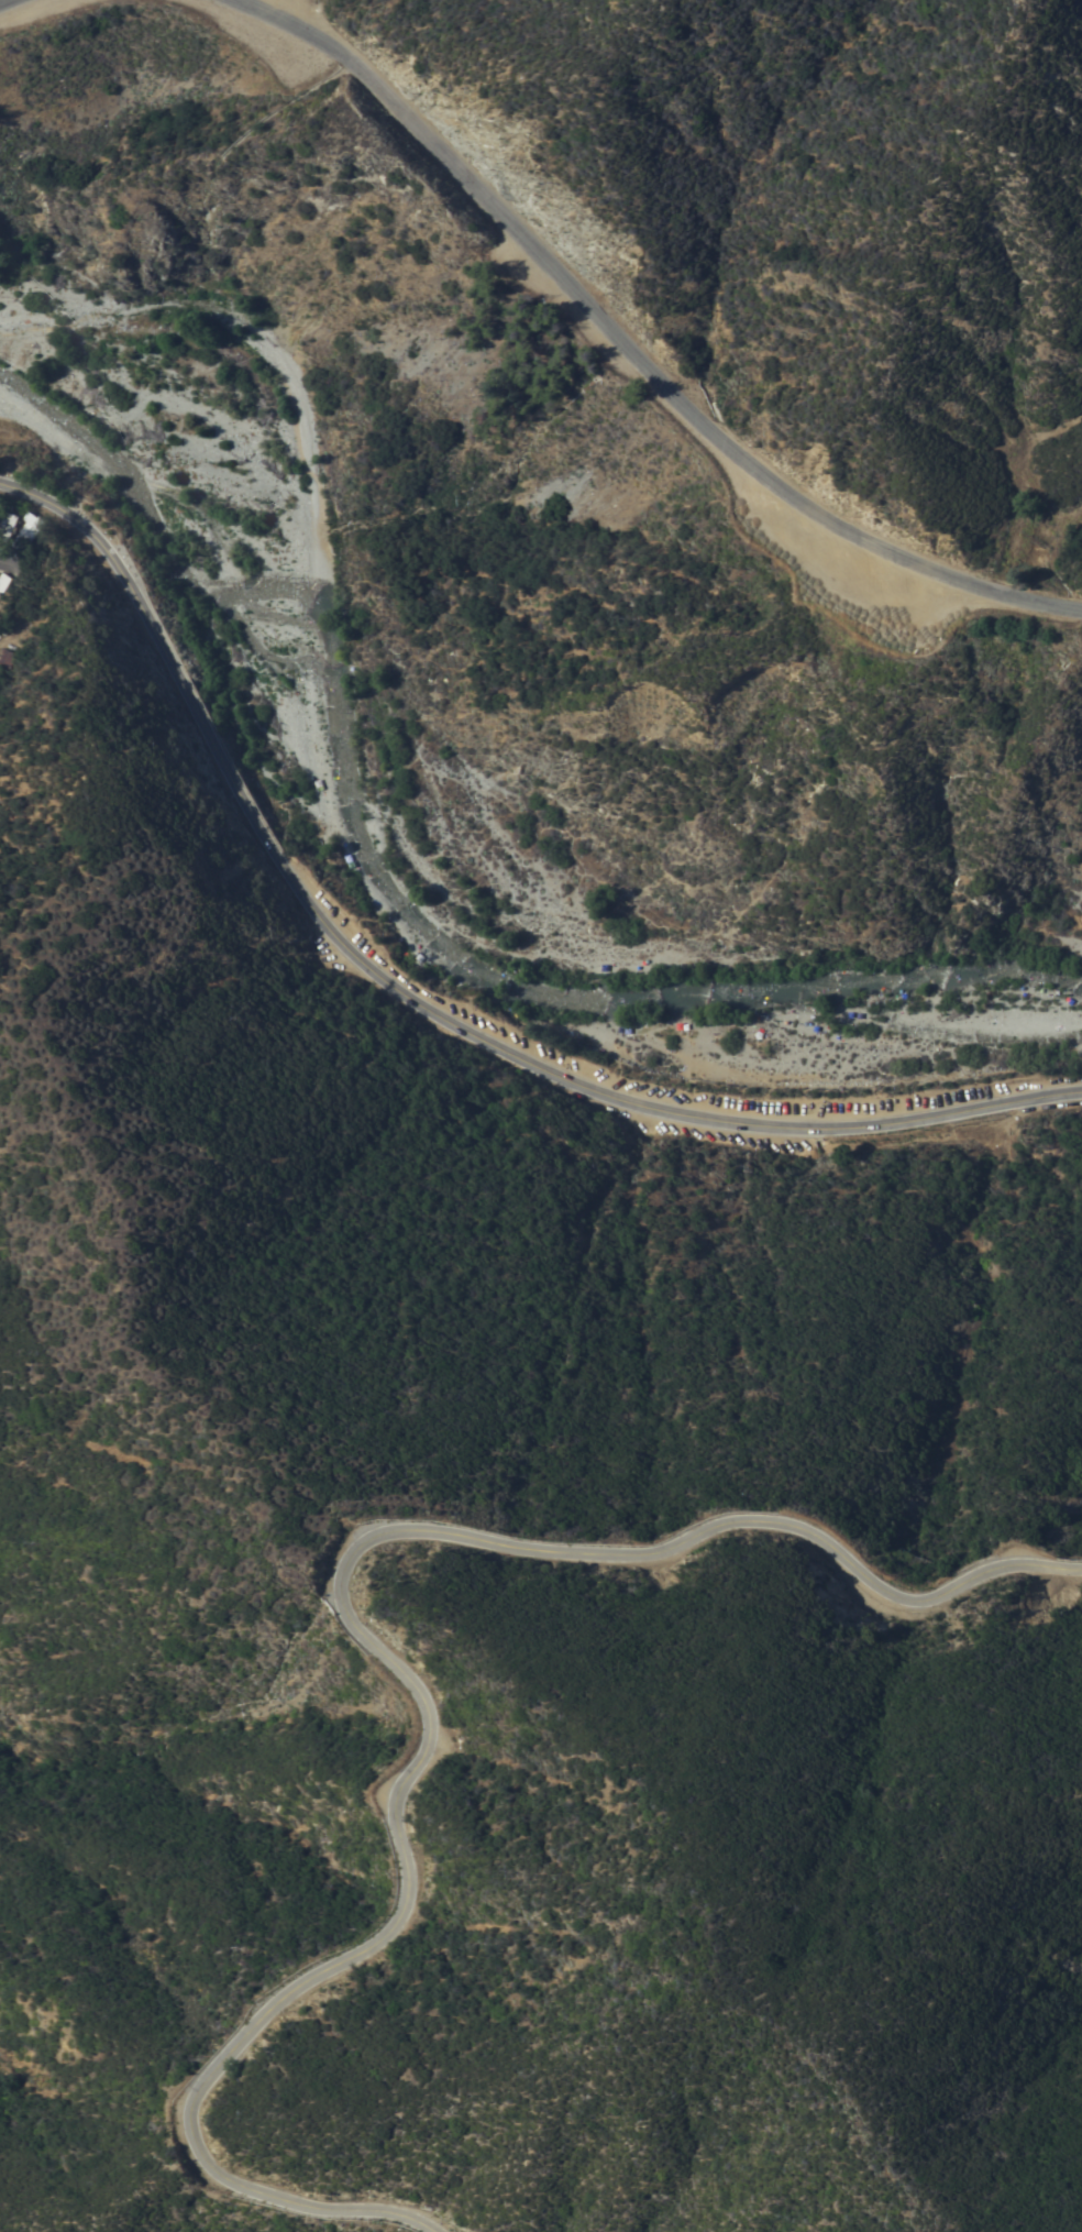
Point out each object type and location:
road: (9, 3)
road: (629, 350)
building: (8, 524)
building: (29, 530)
road: (3, 564)
building: (3, 580)
building: (4, 655)
road: (240, 800)
river: (405, 923)
road: (807, 1129)
road: (384, 1653)

